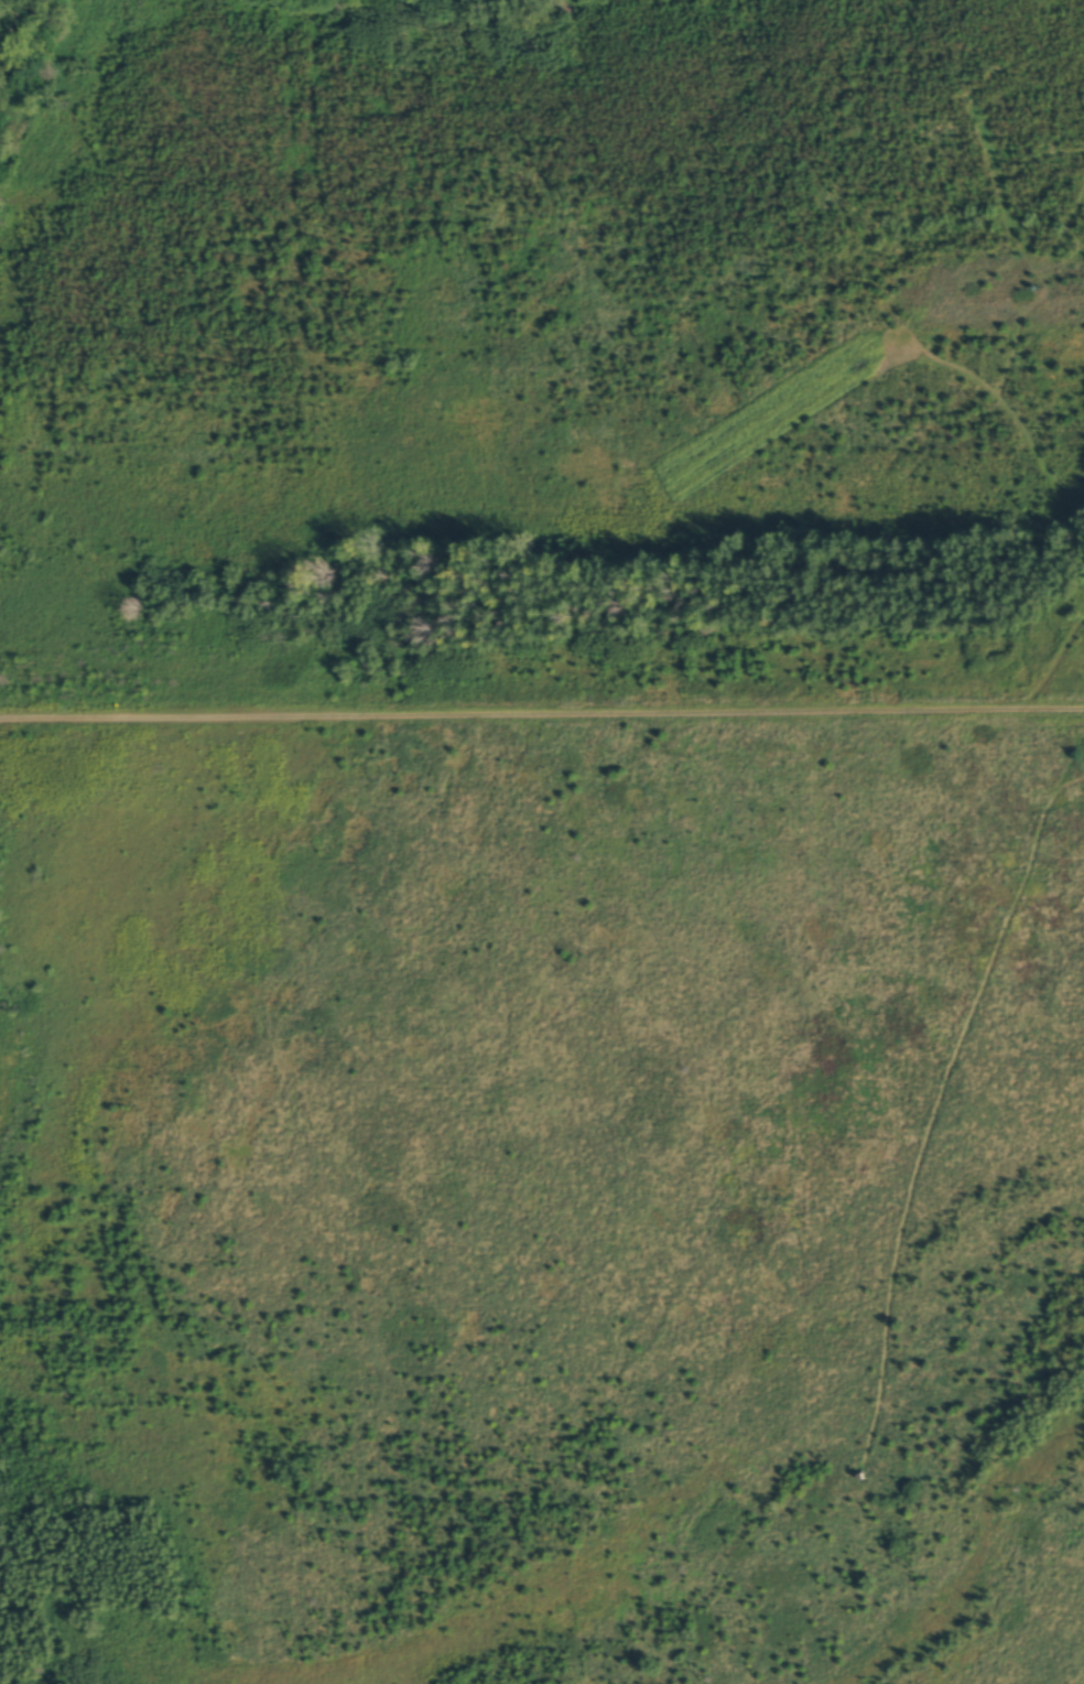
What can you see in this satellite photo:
road: (542, 716)

